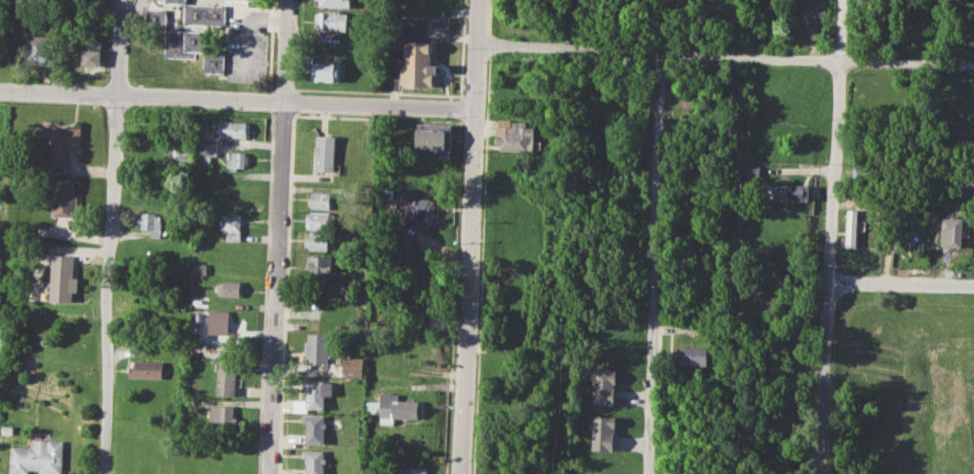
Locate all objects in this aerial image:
building: (71, 0)
building: (175, 0)
building: (330, 4)
building: (205, 14)
road: (133, 16)
building: (154, 19)
building: (330, 21)
building: (511, 23)
road: (246, 28)
building: (182, 43)
park: (4, 44)
parking lot: (247, 47)
building: (39, 49)
building: (91, 52)
road: (725, 54)
building: (214, 62)
building: (417, 64)
building: (326, 71)
building: (793, 89)
building: (508, 93)
road: (237, 98)
building: (232, 128)
building: (516, 135)
building: (965, 135)
building: (434, 136)
building: (54, 145)
building: (206, 152)
building: (325, 152)
building: (236, 159)
building: (752, 170)
building: (867, 174)
building: (965, 181)
building: (788, 192)
building: (64, 198)
building: (320, 199)
building: (418, 207)
building: (318, 219)
building: (151, 222)
building: (232, 227)
building: (851, 227)
building: (952, 232)
road: (109, 236)
road: (278, 236)
road: (469, 236)
road: (830, 237)
building: (317, 240)
building: (909, 242)
road: (653, 263)
building: (319, 266)
building: (201, 268)
building: (62, 277)
road: (901, 283)
building: (232, 288)
building: (220, 321)
building: (317, 347)
building: (692, 356)
building: (354, 367)
building: (147, 368)
building: (228, 377)
park: (901, 384)
building: (603, 387)
building: (313, 396)
park: (942, 398)
building: (396, 408)
building: (224, 415)
building: (315, 427)
building: (8, 429)
building: (601, 432)
building: (37, 457)
building: (315, 460)
building: (416, 469)

